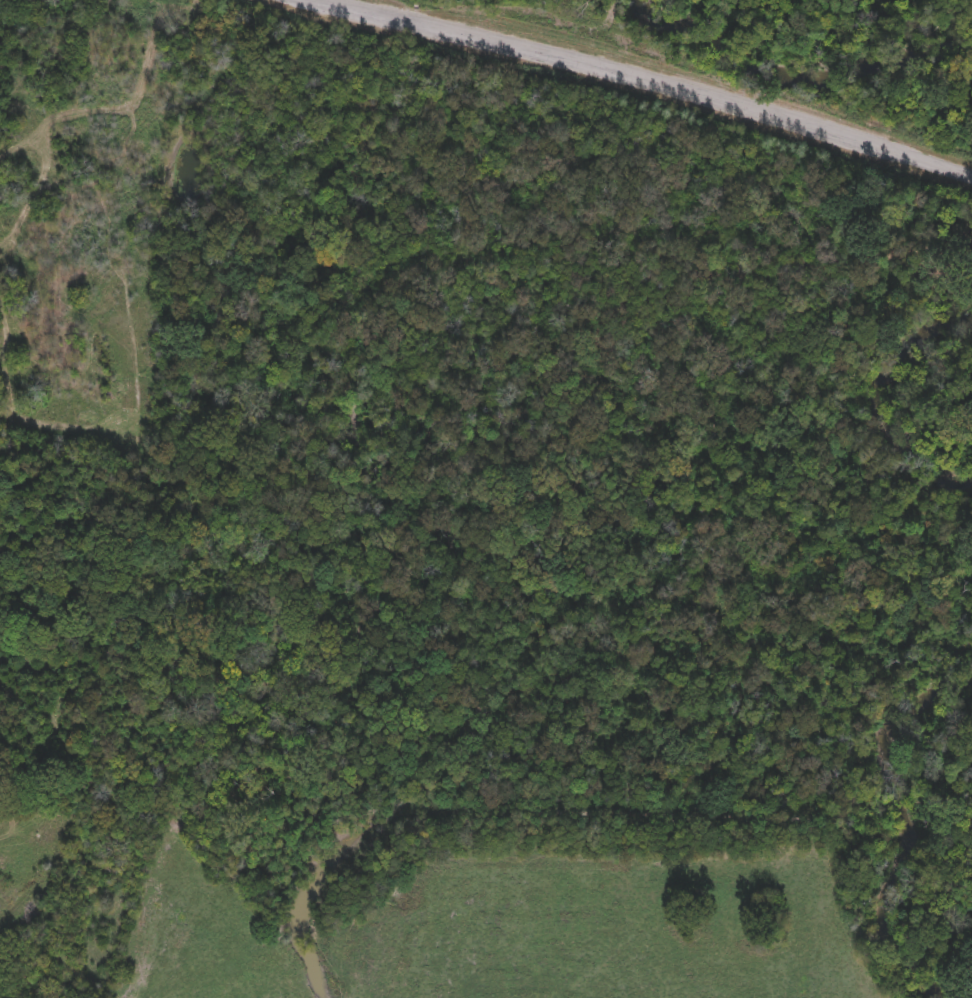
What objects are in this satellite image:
road: (643, 77)

